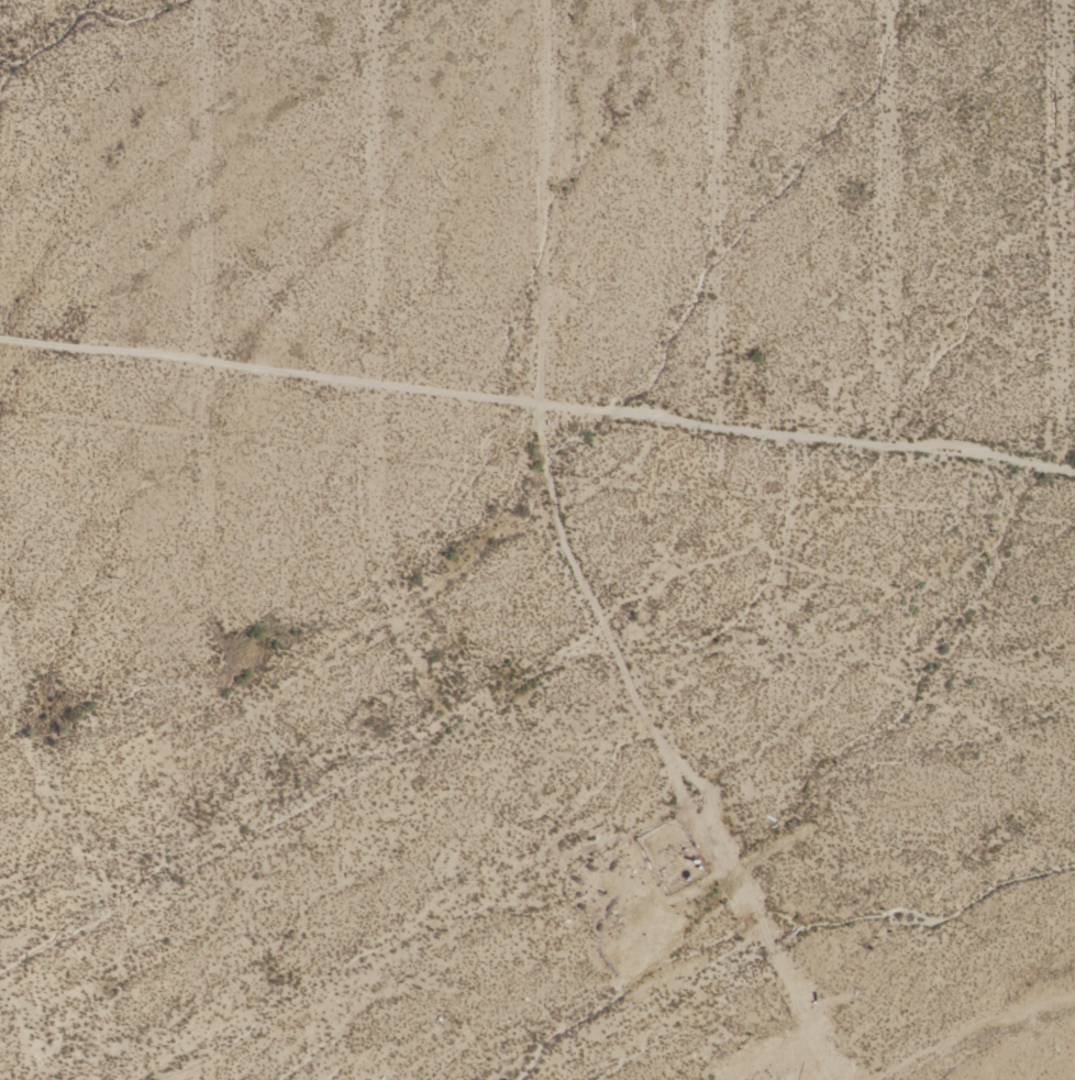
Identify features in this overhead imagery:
road: (716, 213)
road: (887, 223)
road: (1056, 234)
road: (373, 365)
road: (536, 405)
road: (203, 406)
road: (564, 556)
road: (56, 767)
road: (303, 793)
road: (728, 858)
road: (633, 1007)
road: (32, 1020)
road: (968, 1031)

